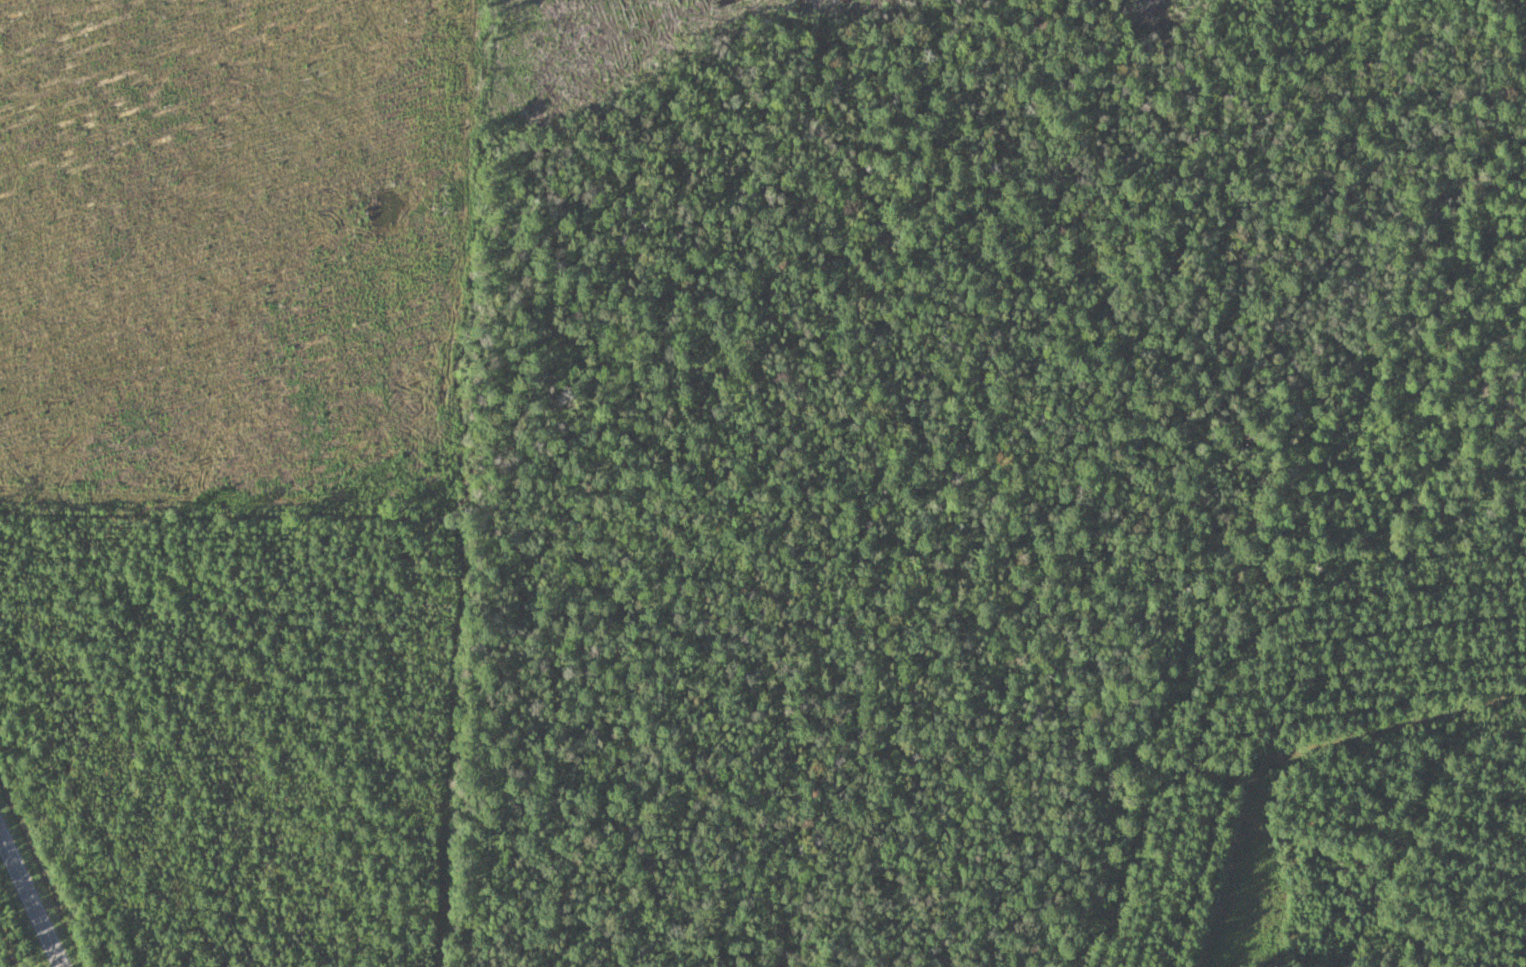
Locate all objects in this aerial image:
road: (30, 899)

